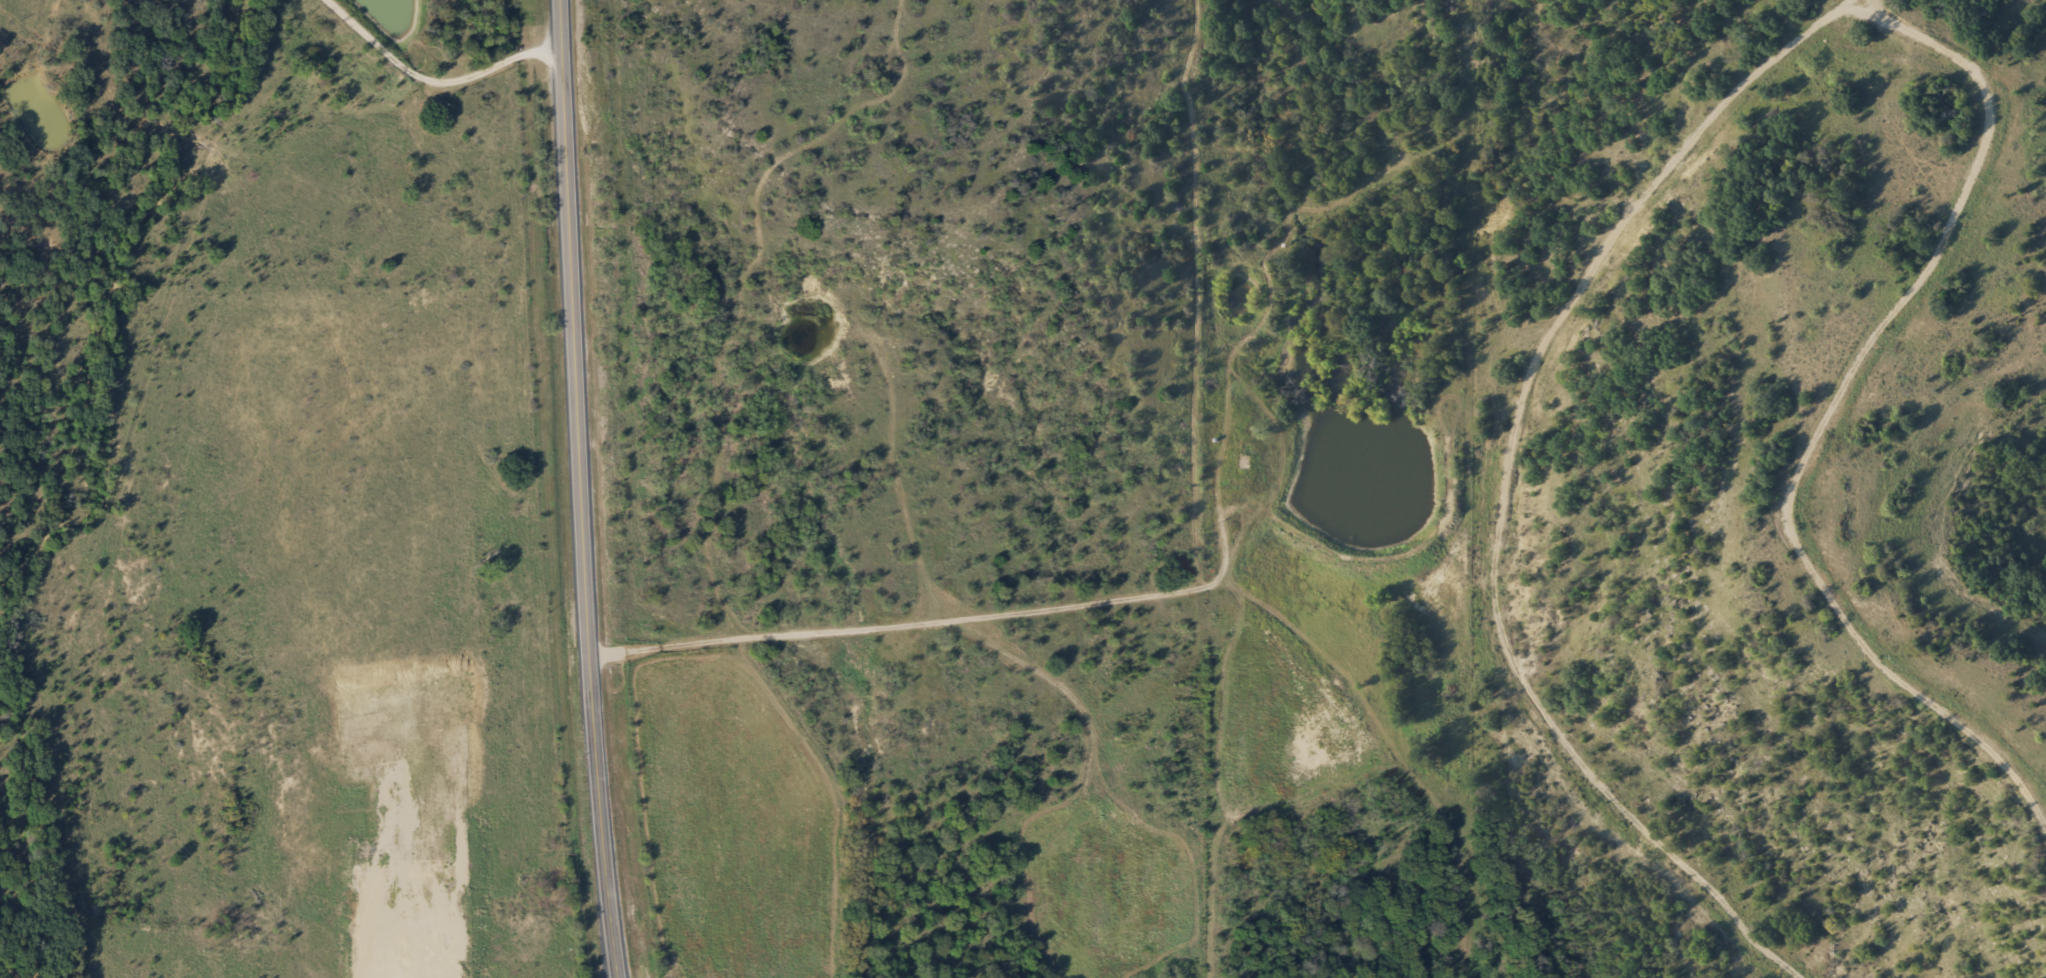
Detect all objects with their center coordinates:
road: (432, 80)
road: (1252, 454)
building: (1227, 461)
road: (579, 489)

